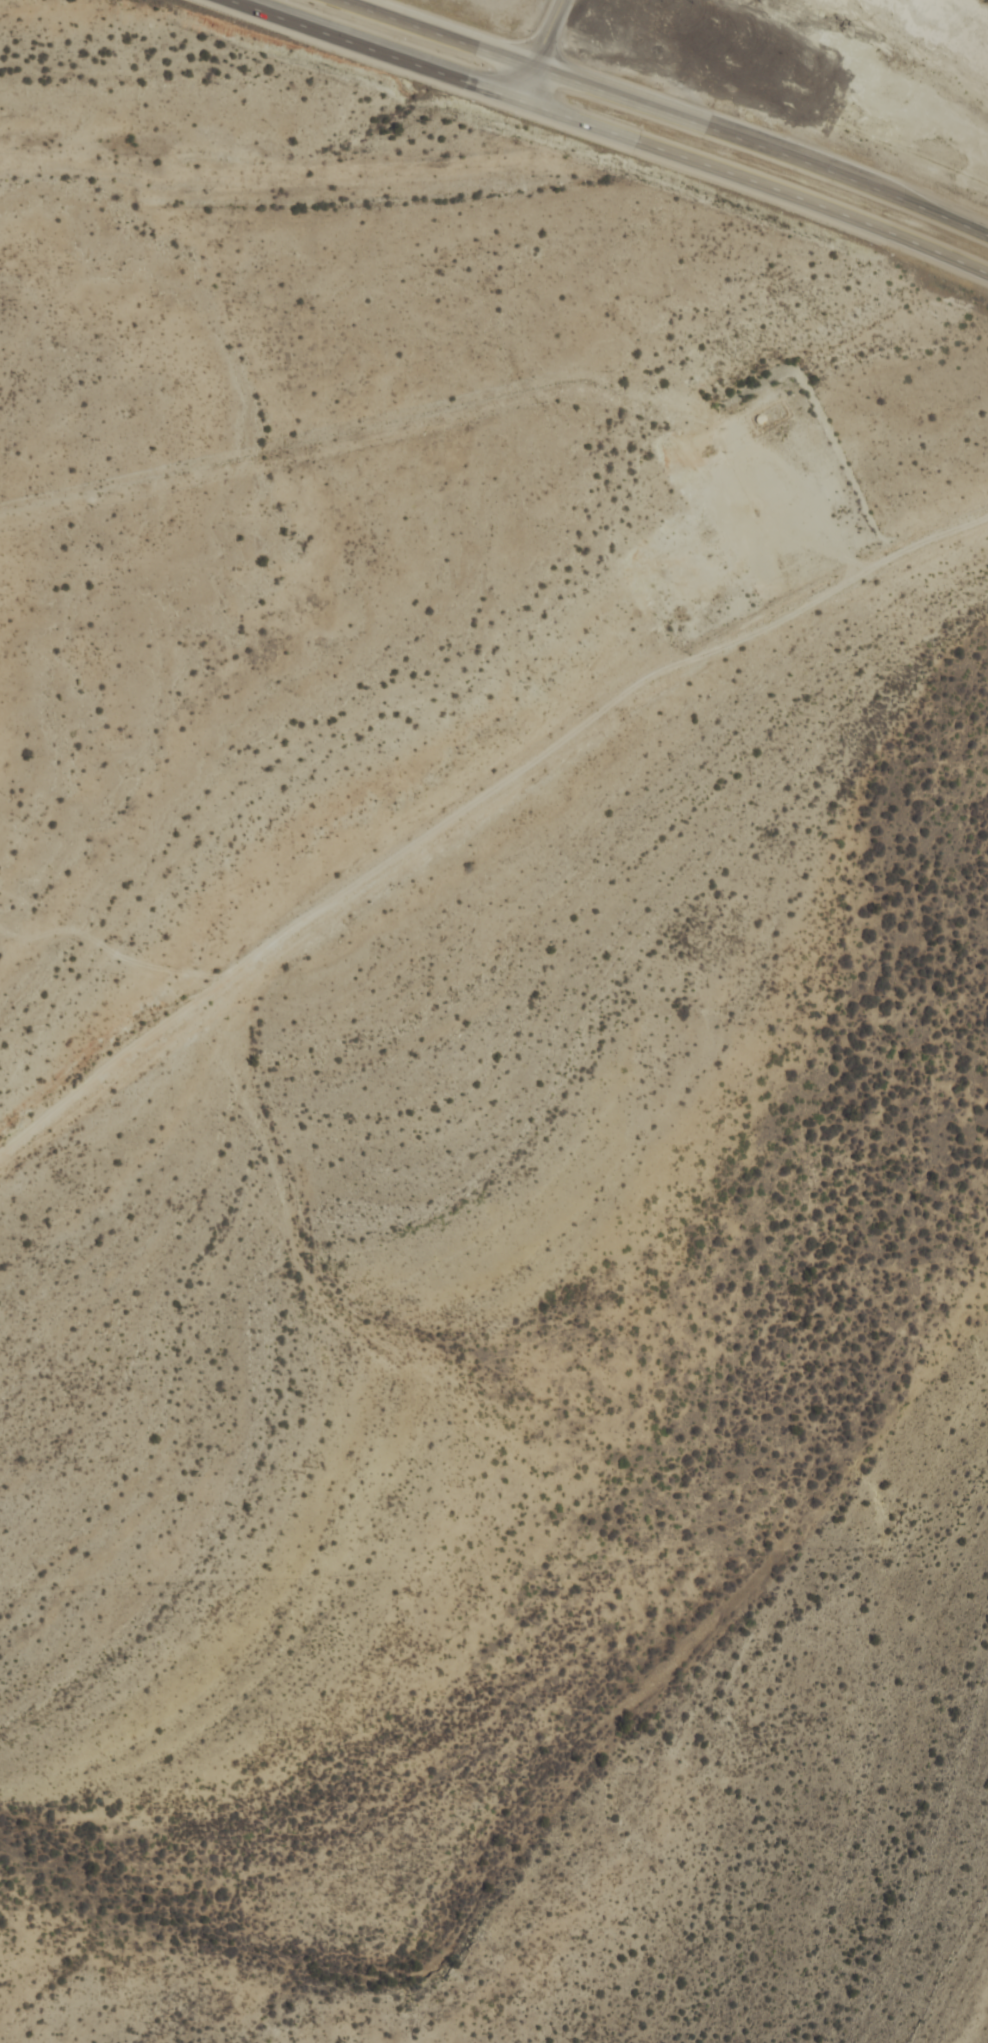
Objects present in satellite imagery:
road: (537, 51)
road: (664, 113)
road: (609, 134)
road: (799, 509)
road: (475, 802)
road: (109, 948)
park: (263, 1809)

